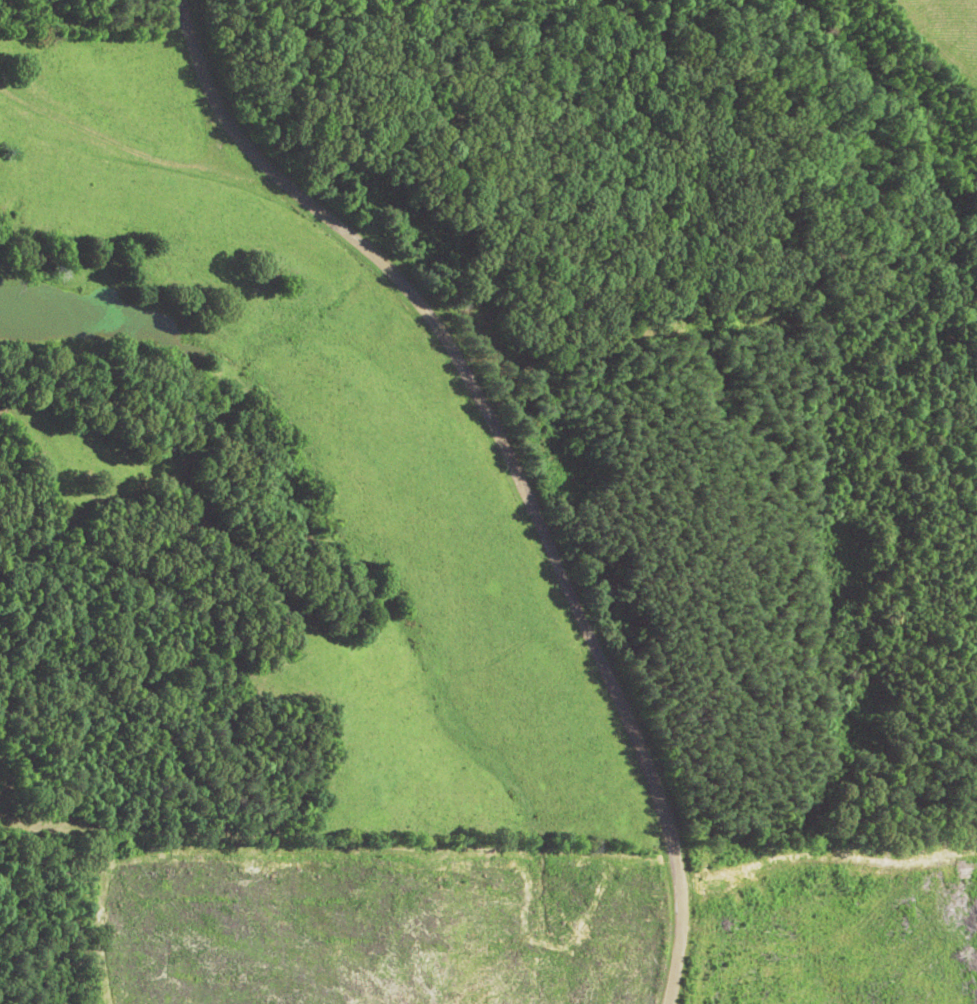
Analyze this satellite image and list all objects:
road: (110, 137)
road: (471, 470)

